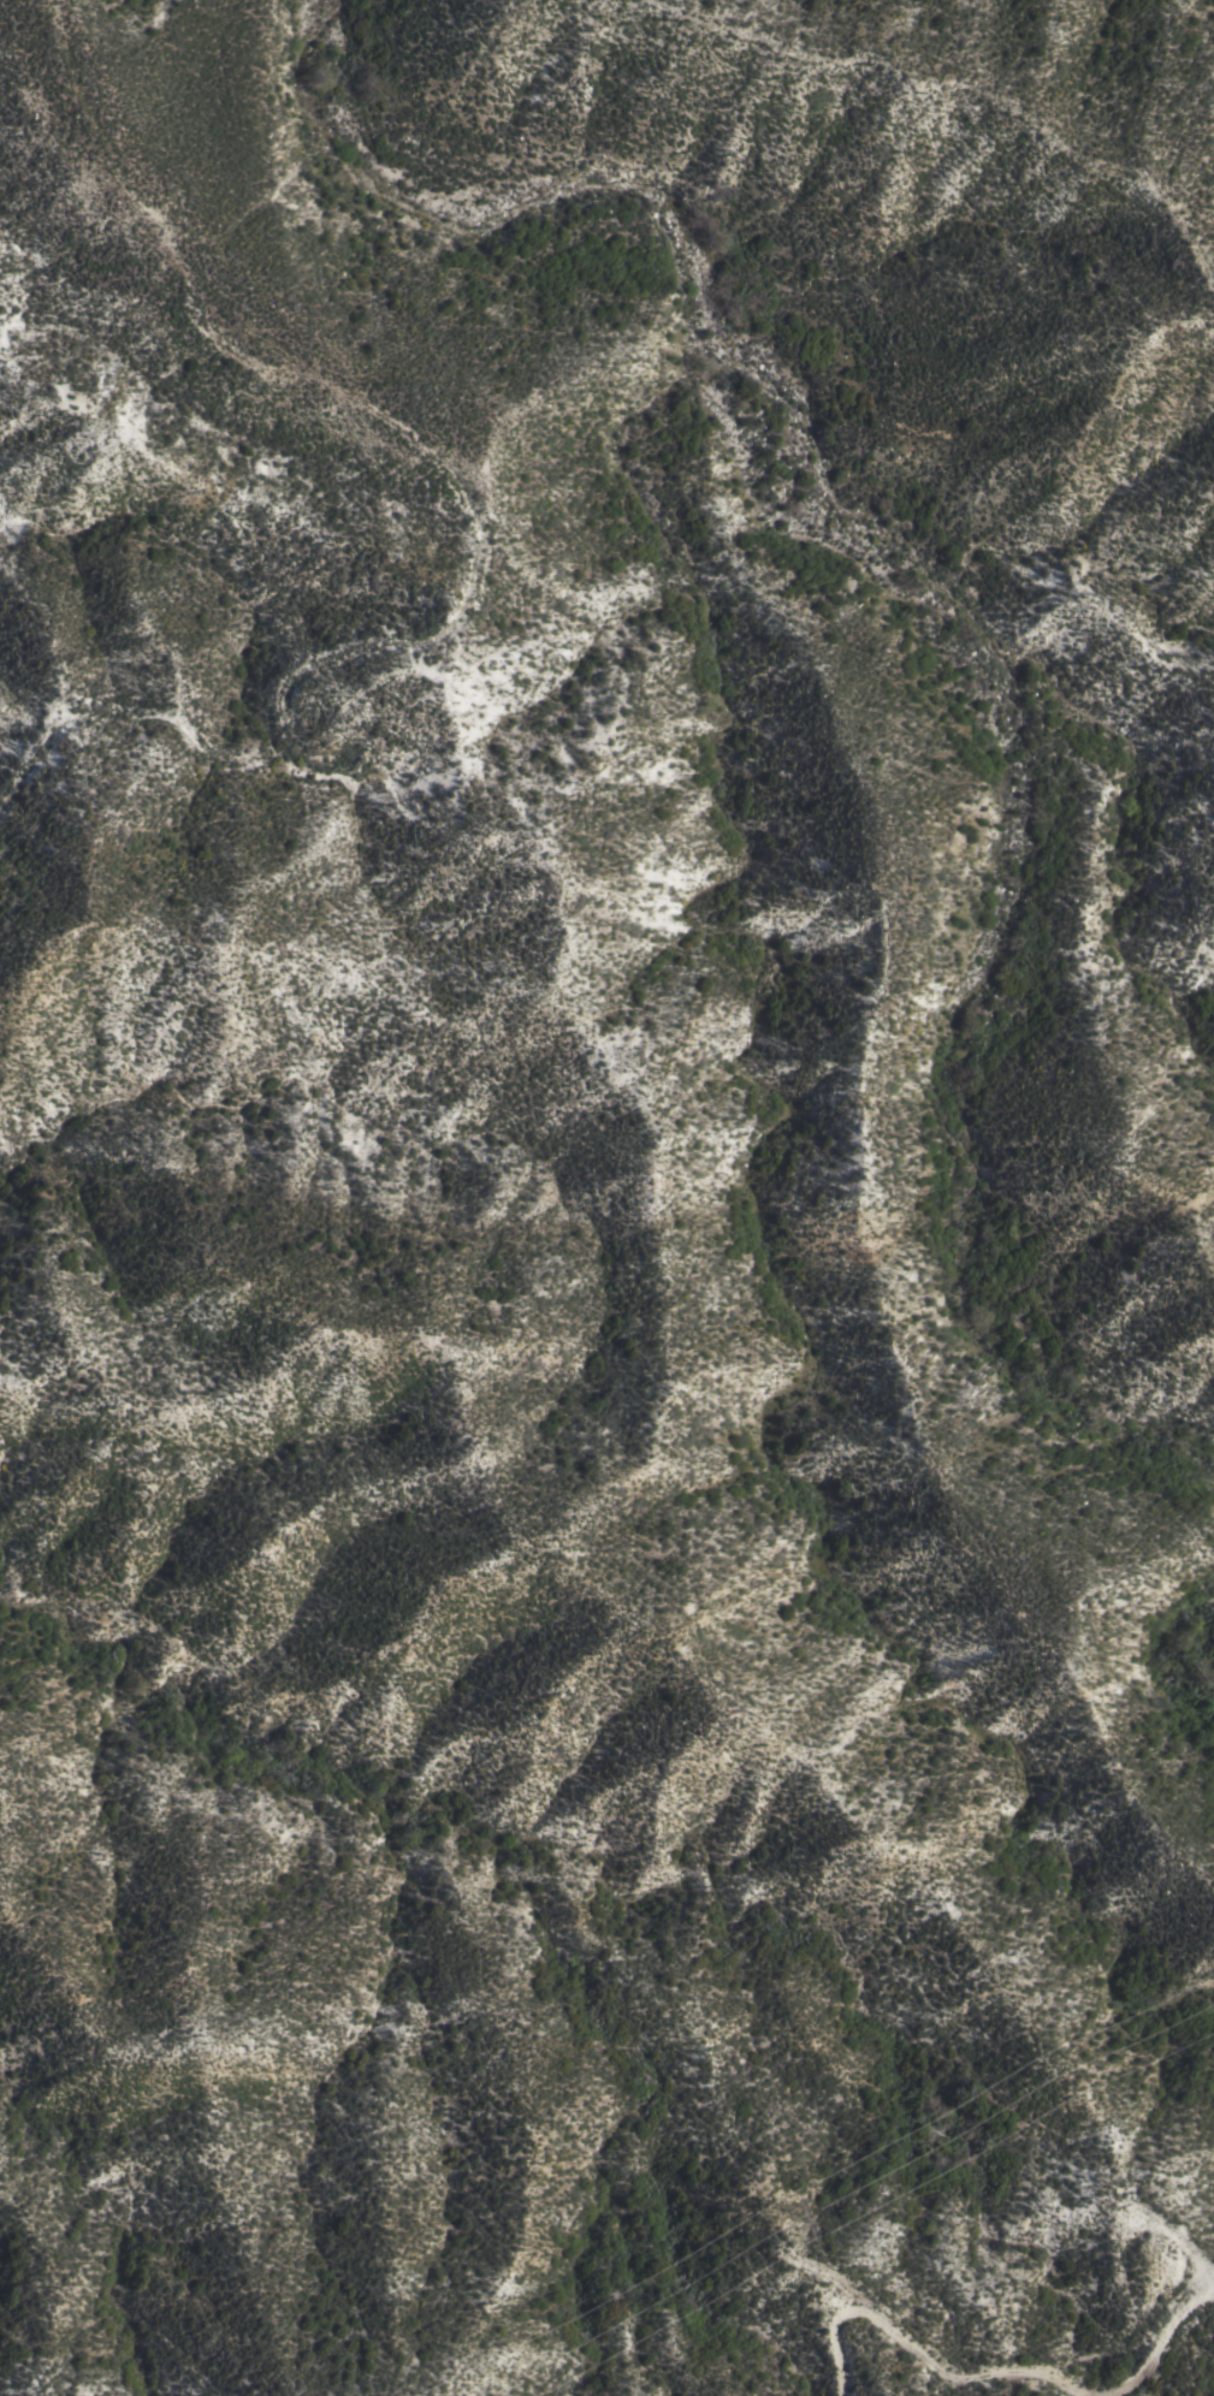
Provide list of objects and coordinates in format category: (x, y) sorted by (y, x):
power tower: (781, 2212)
road: (994, 2372)

